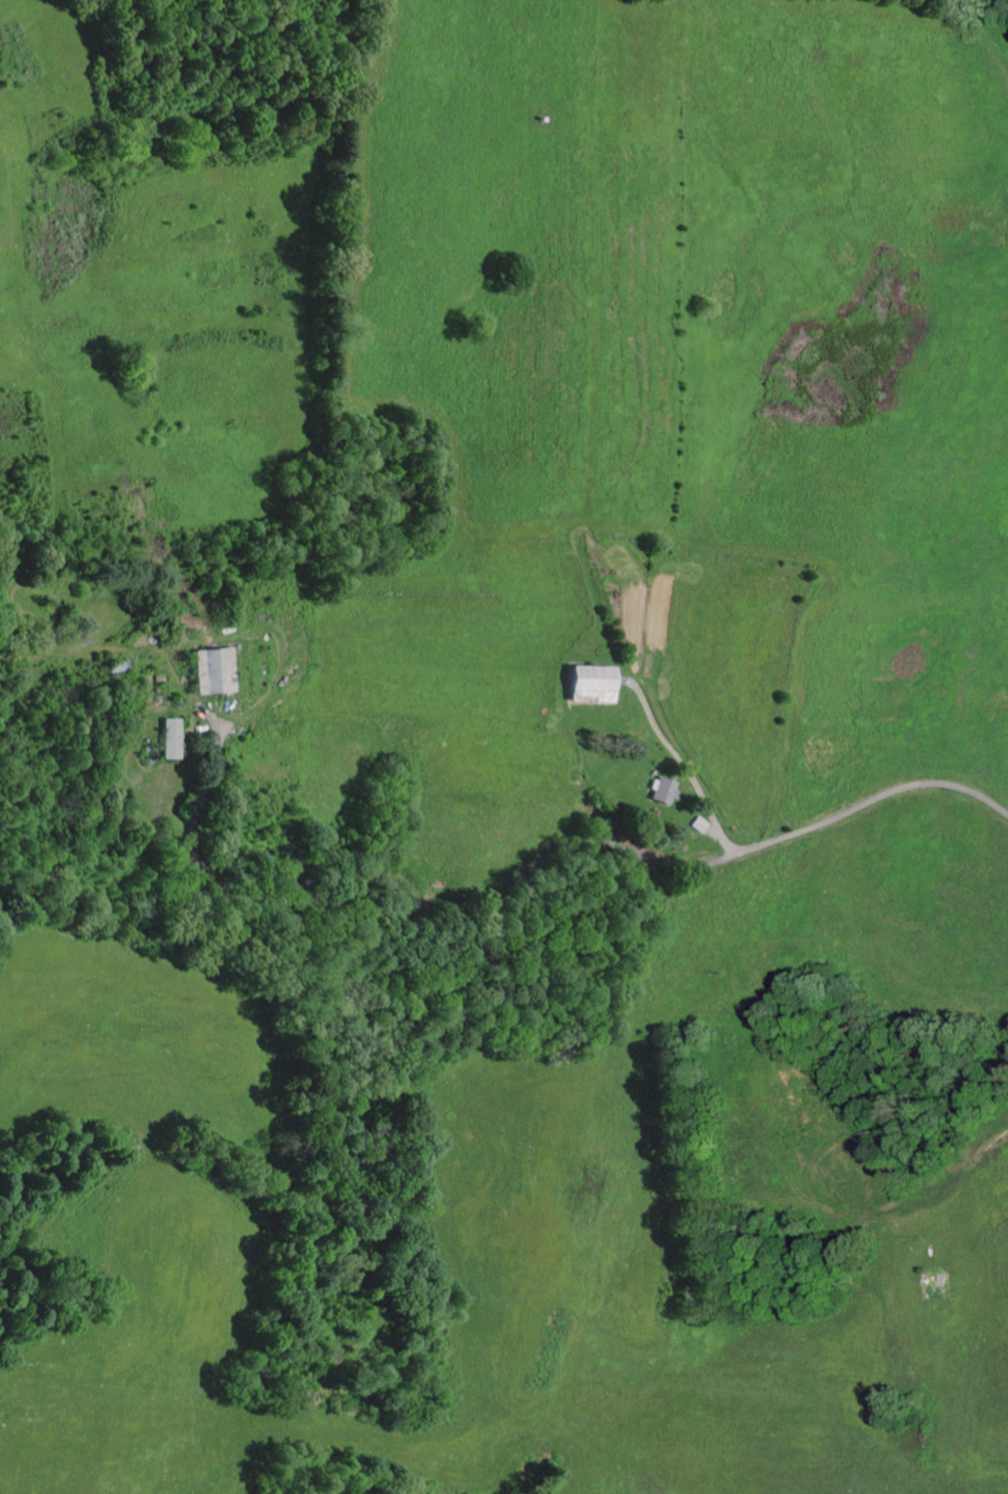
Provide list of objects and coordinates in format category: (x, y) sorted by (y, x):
building: (210, 671)
building: (590, 683)
road: (291, 717)
building: (171, 738)
building: (663, 790)
building: (700, 824)
road: (671, 863)
road: (209, 871)
building: (939, 1288)

